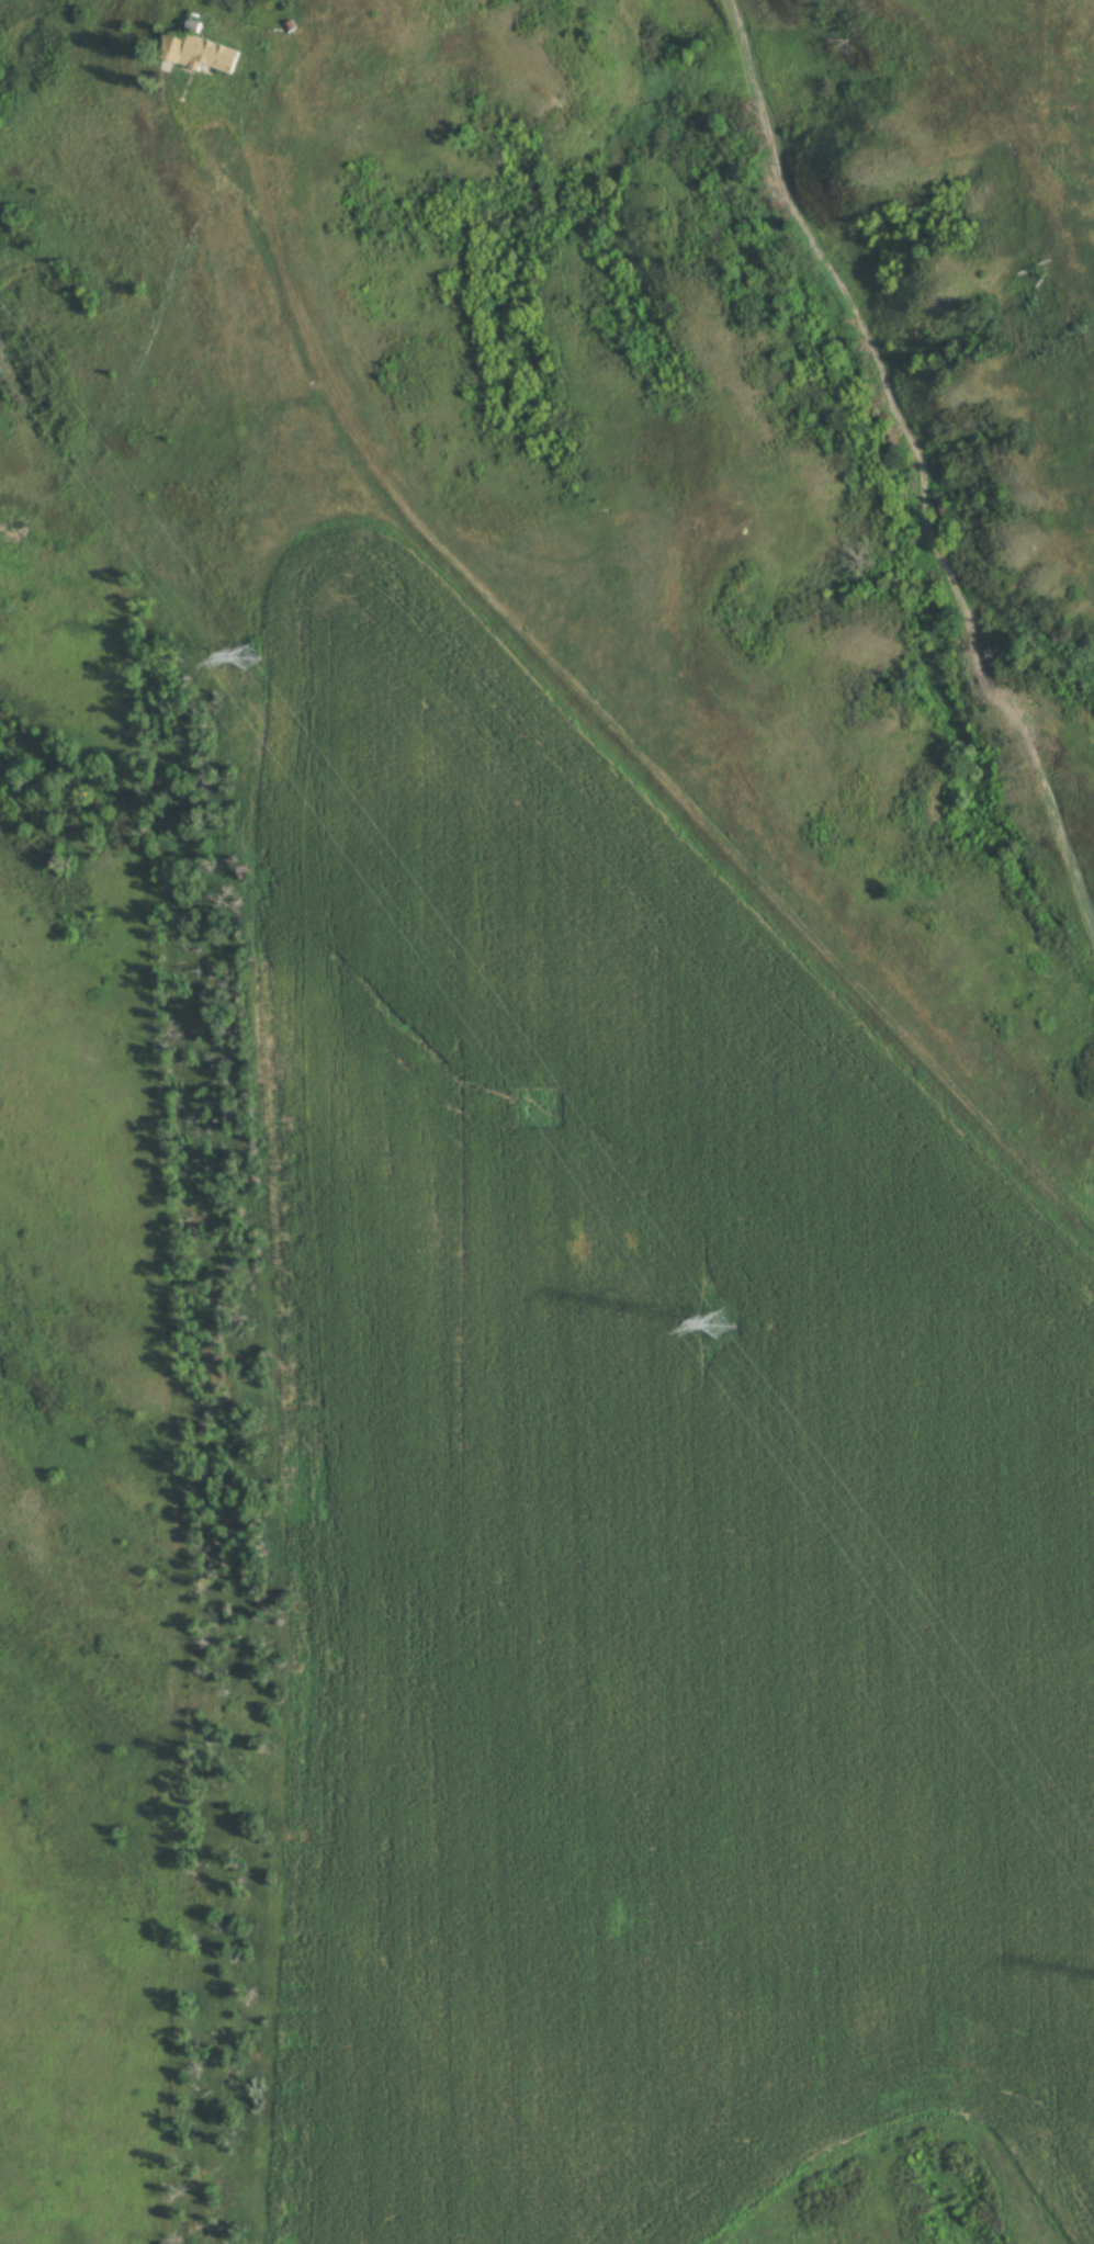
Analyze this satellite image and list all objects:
building: (198, 56)
power tower: (244, 658)
road: (585, 702)
power tower: (712, 1324)

